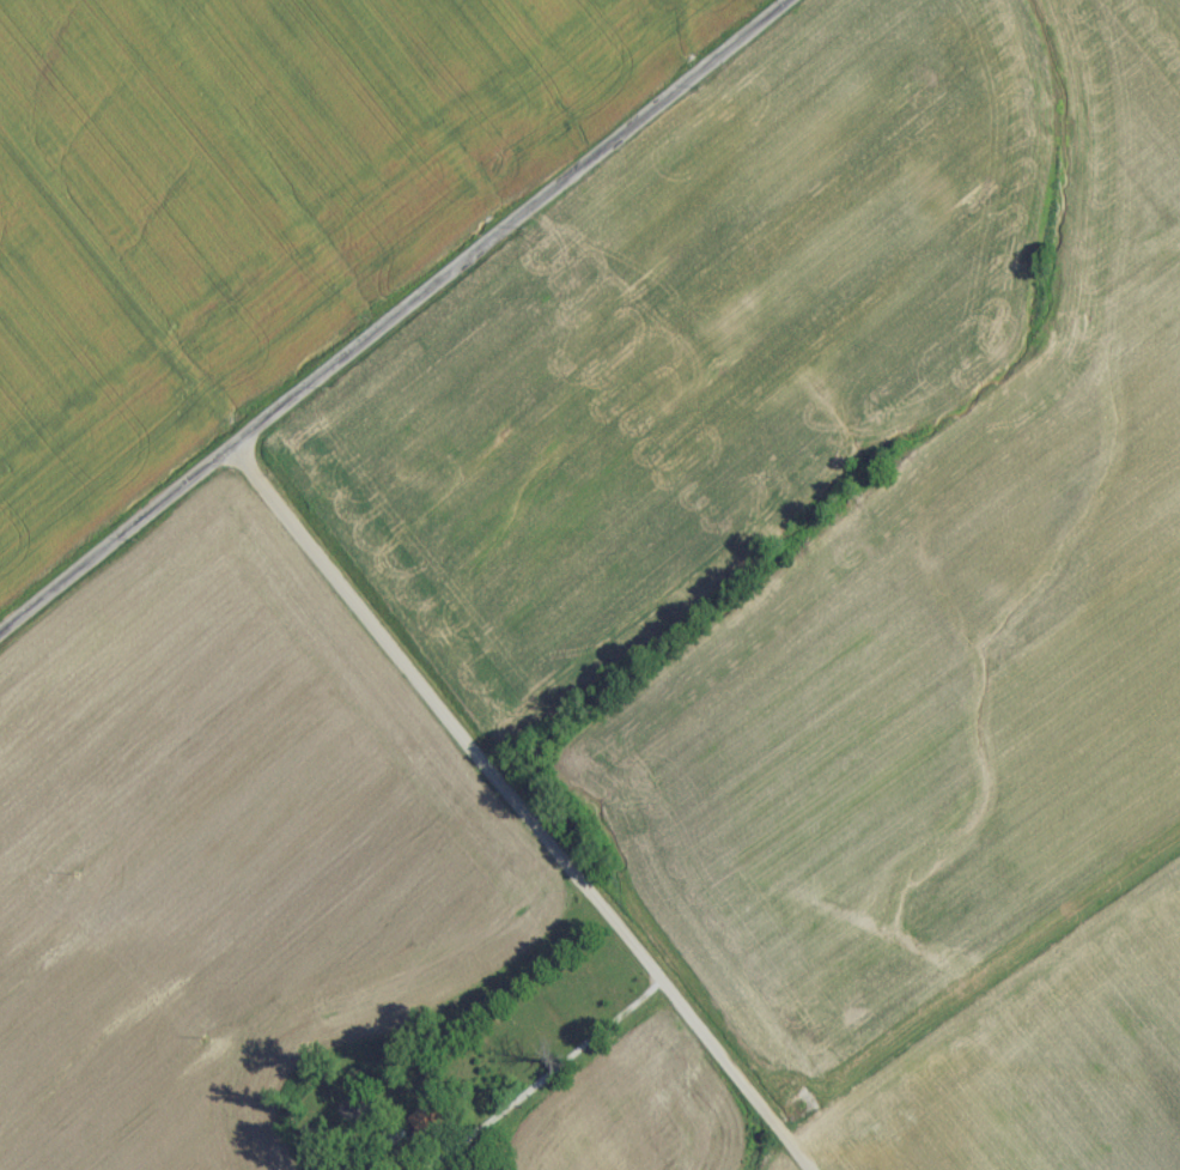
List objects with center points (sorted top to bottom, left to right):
road: (501, 220)
road: (117, 538)
road: (519, 807)
road: (568, 1061)

